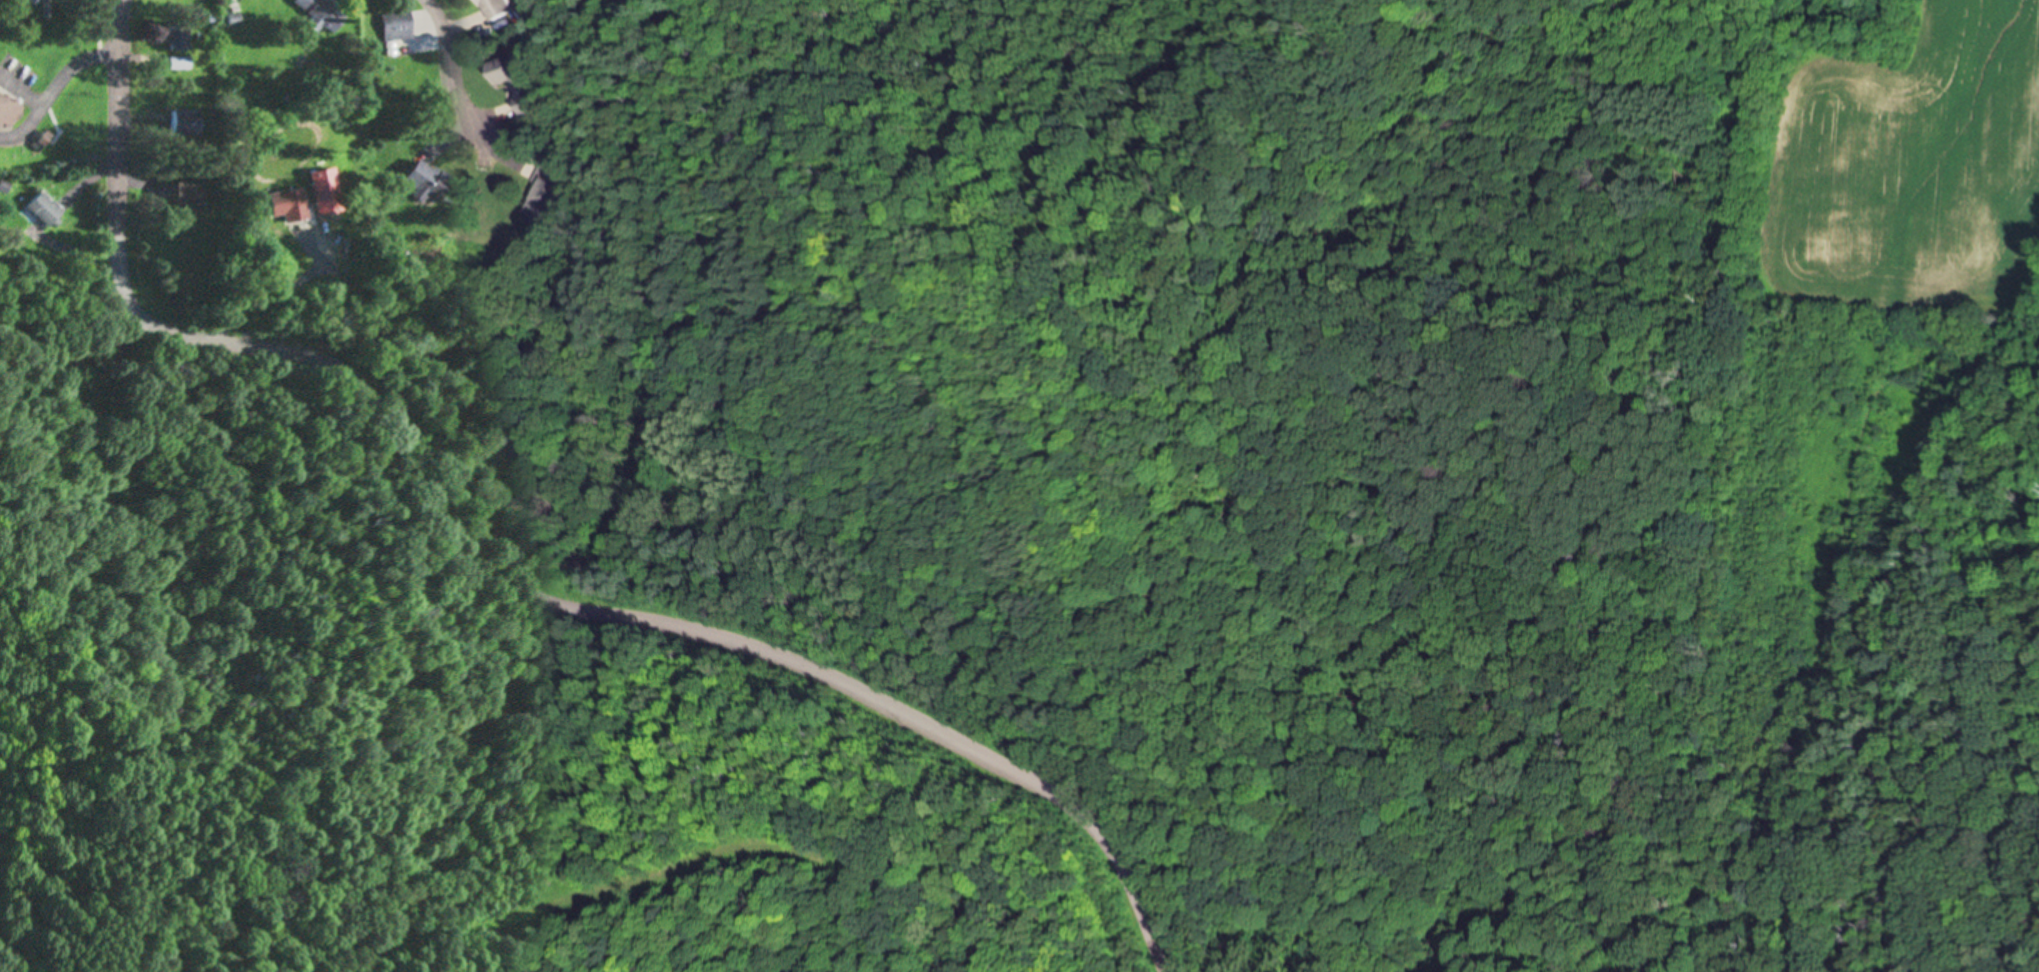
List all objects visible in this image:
building: (498, 9)
park: (0, 14)
building: (321, 15)
building: (399, 27)
building: (179, 37)
building: (180, 64)
road: (451, 66)
building: (514, 83)
road: (120, 112)
building: (9, 114)
building: (186, 124)
crop: (1905, 165)
building: (428, 180)
building: (543, 194)
building: (189, 198)
building: (292, 206)
building: (46, 210)
road: (622, 617)
park: (1557, 632)
road: (661, 881)

